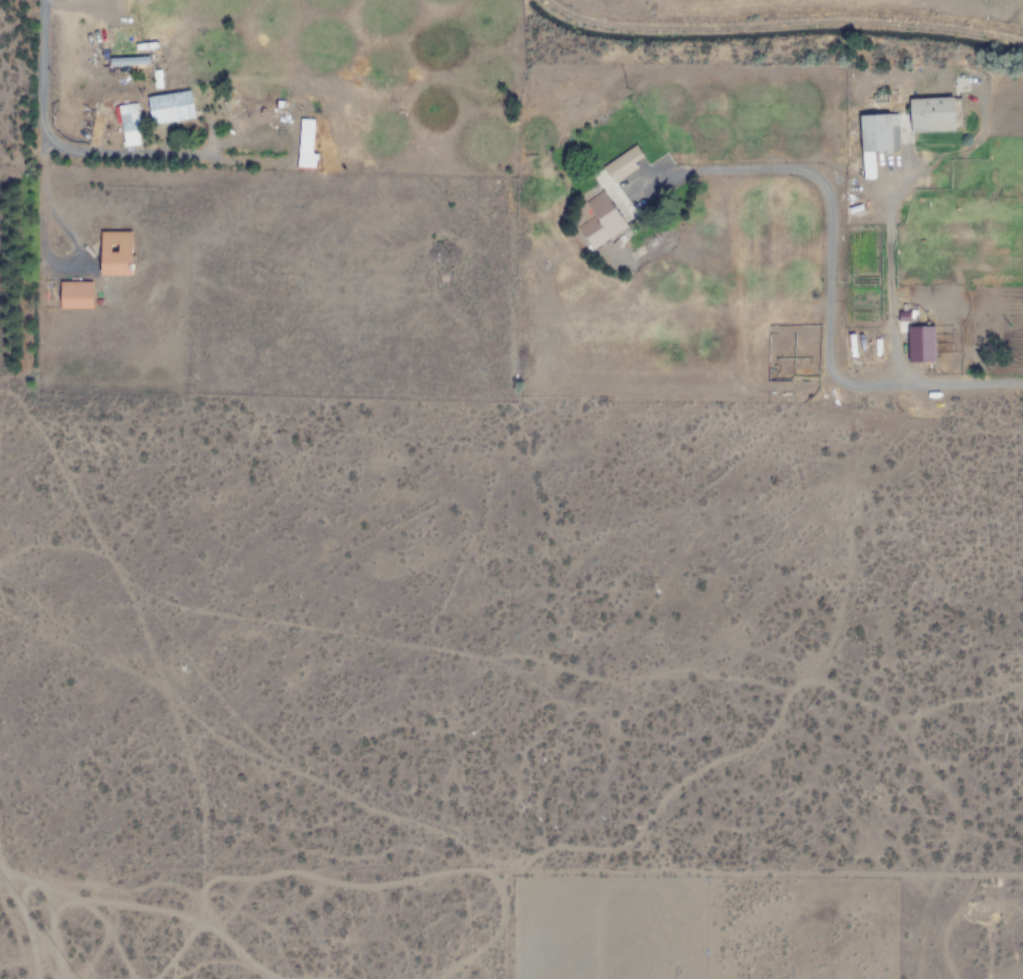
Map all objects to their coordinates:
building: (169, 107)
building: (305, 113)
building: (932, 115)
road: (42, 121)
building: (875, 133)
crop: (637, 166)
building: (646, 197)
building: (603, 201)
building: (115, 252)
building: (75, 295)
road: (847, 380)
road: (342, 880)
road: (180, 912)
road: (28, 919)
road: (110, 933)
road: (452, 959)

